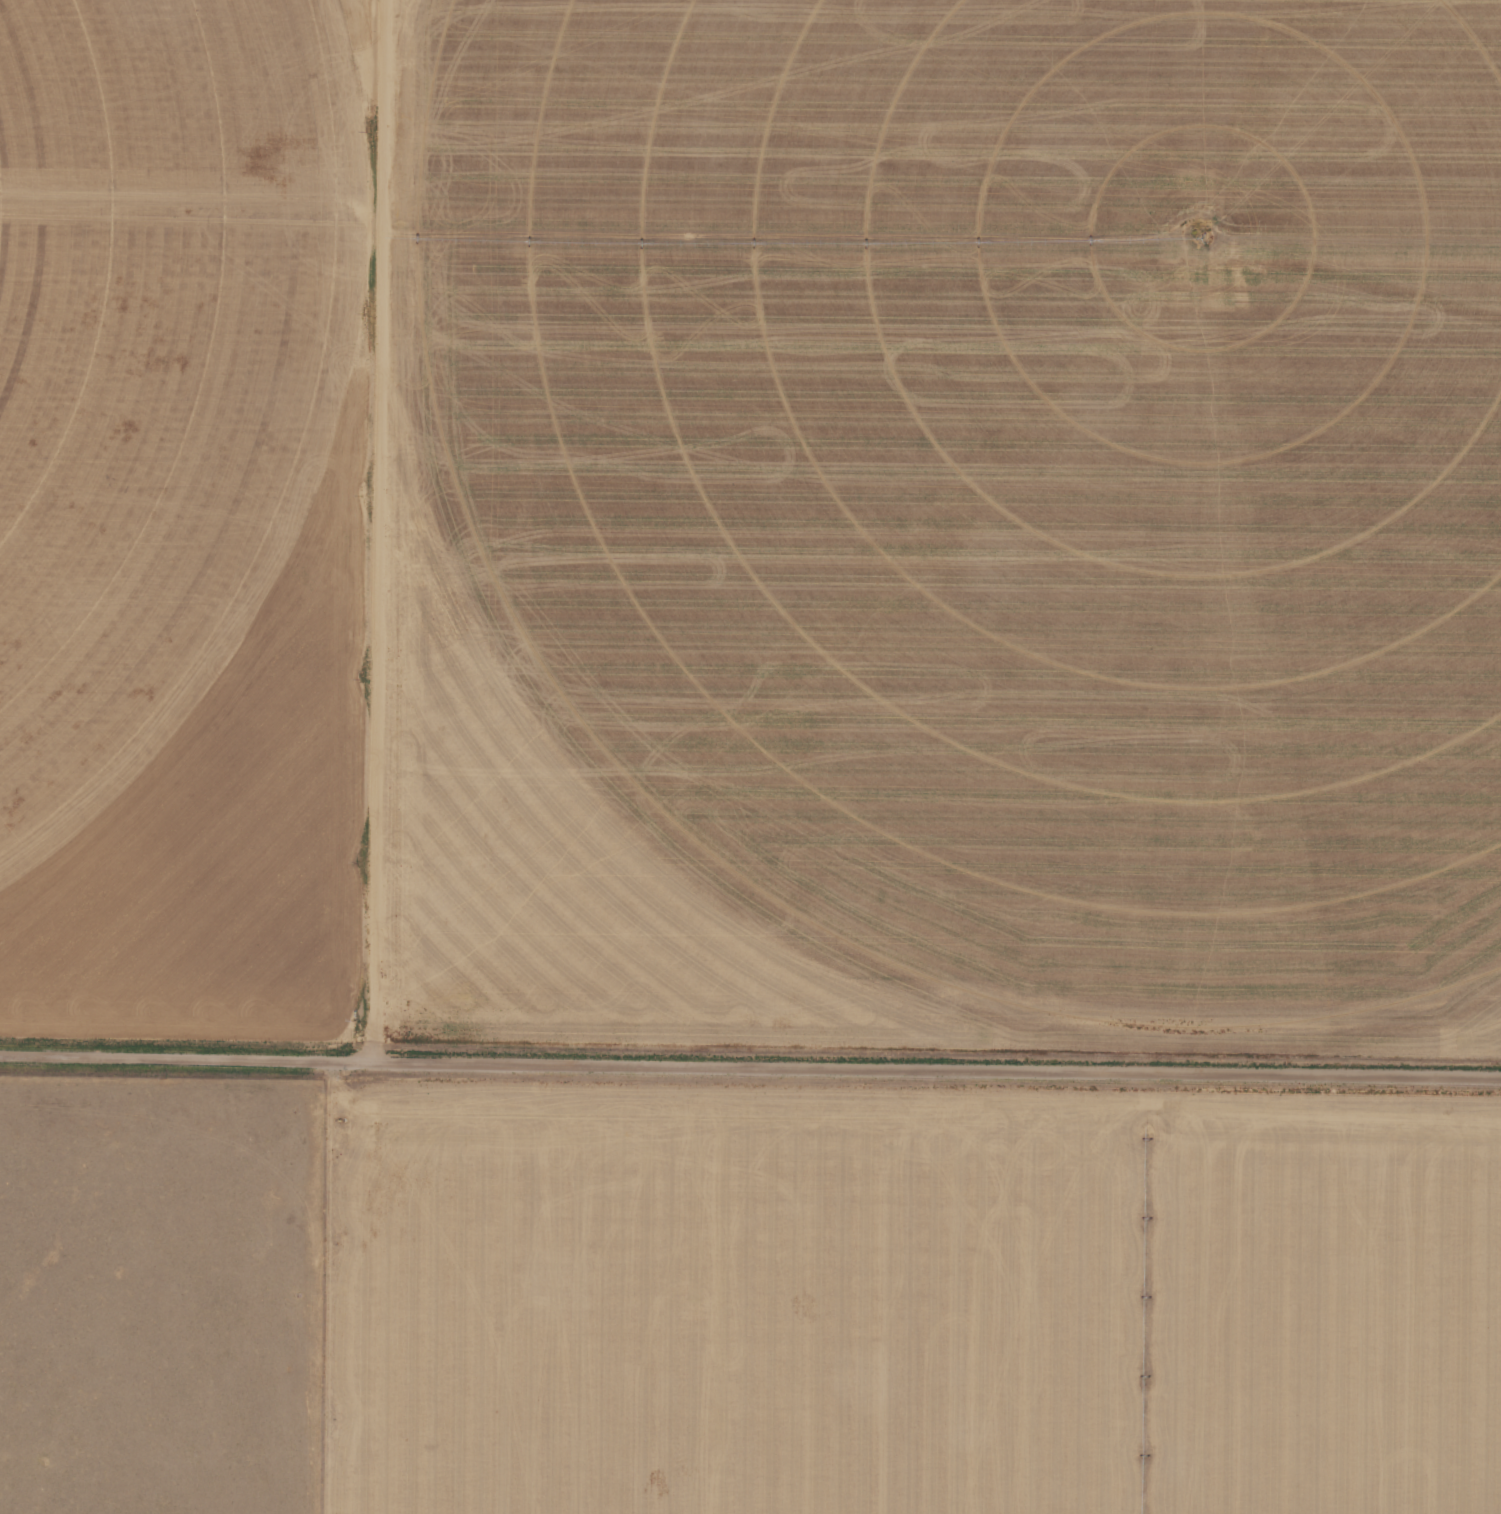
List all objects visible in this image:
road: (750, 1062)

